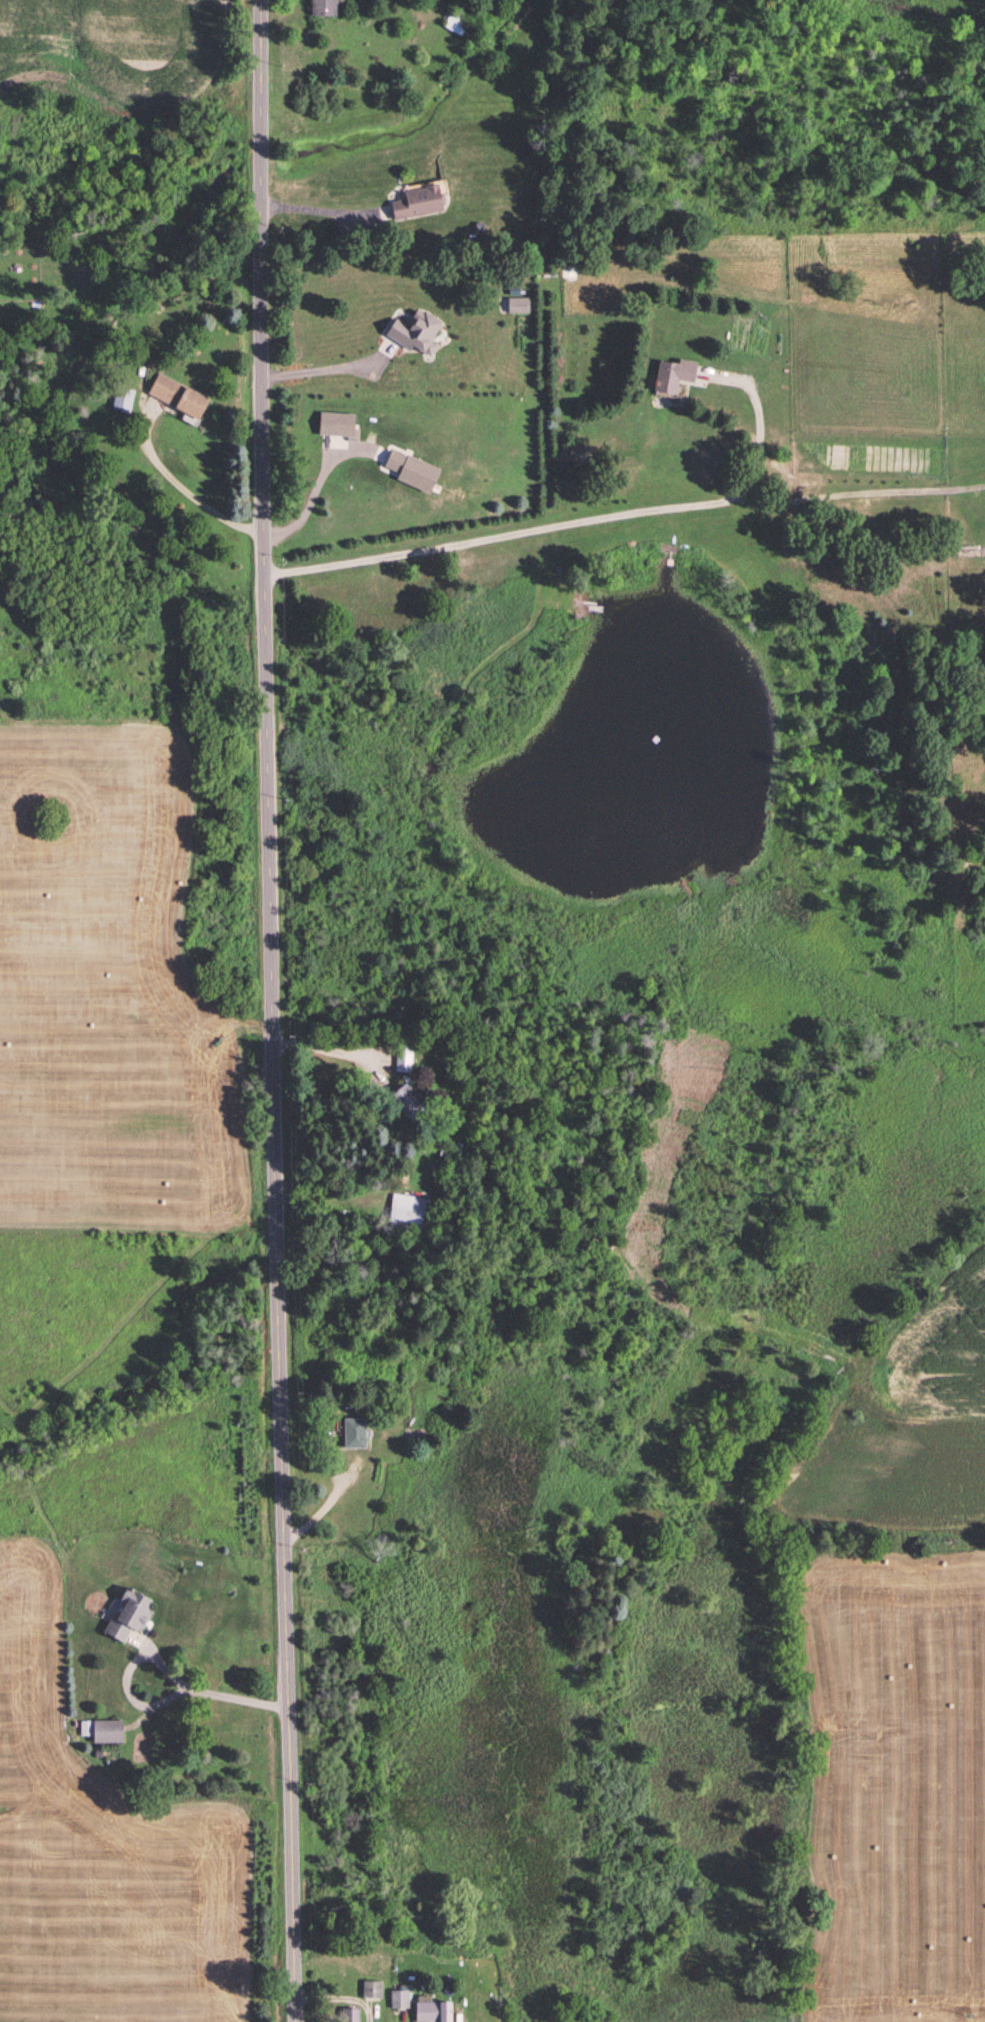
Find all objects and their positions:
building: (325, 9)
building: (458, 22)
crop: (119, 45)
building: (420, 203)
road: (330, 212)
building: (675, 374)
building: (179, 396)
building: (123, 400)
road: (773, 422)
road: (195, 486)
road: (628, 514)
crop: (112, 989)
road: (281, 1011)
road: (336, 1046)
building: (405, 1056)
building: (413, 1104)
road: (335, 1197)
building: (408, 1214)
building: (405, 1409)
crop: (910, 1420)
building: (356, 1432)
road: (336, 1508)
building: (131, 1616)
road: (174, 1660)
building: (109, 1732)
crop: (894, 1784)
crop: (110, 1845)
building: (374, 1990)
building: (401, 2000)
building: (435, 2011)
building: (352, 2015)

